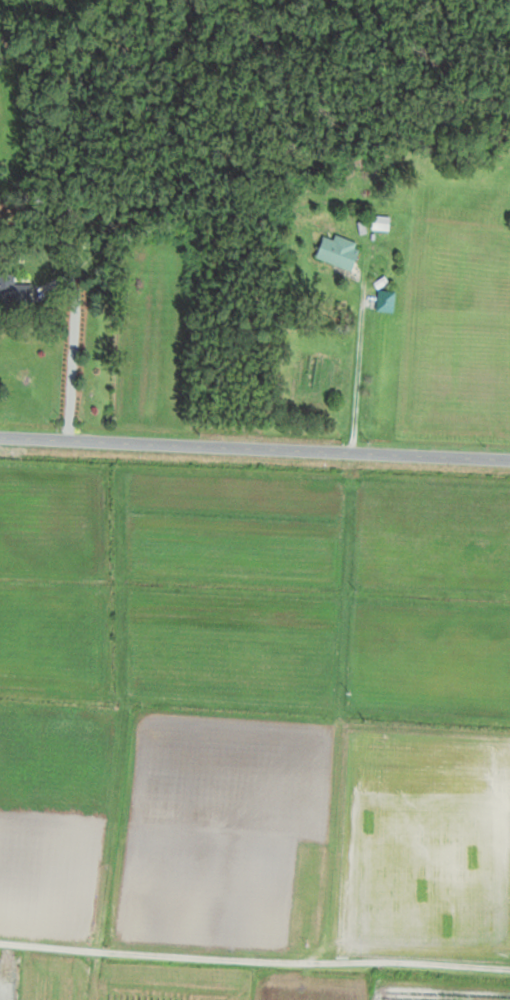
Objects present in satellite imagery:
building: (380, 223)
building: (338, 252)
building: (13, 292)
building: (385, 301)
road: (357, 359)
road: (254, 451)
road: (254, 958)

